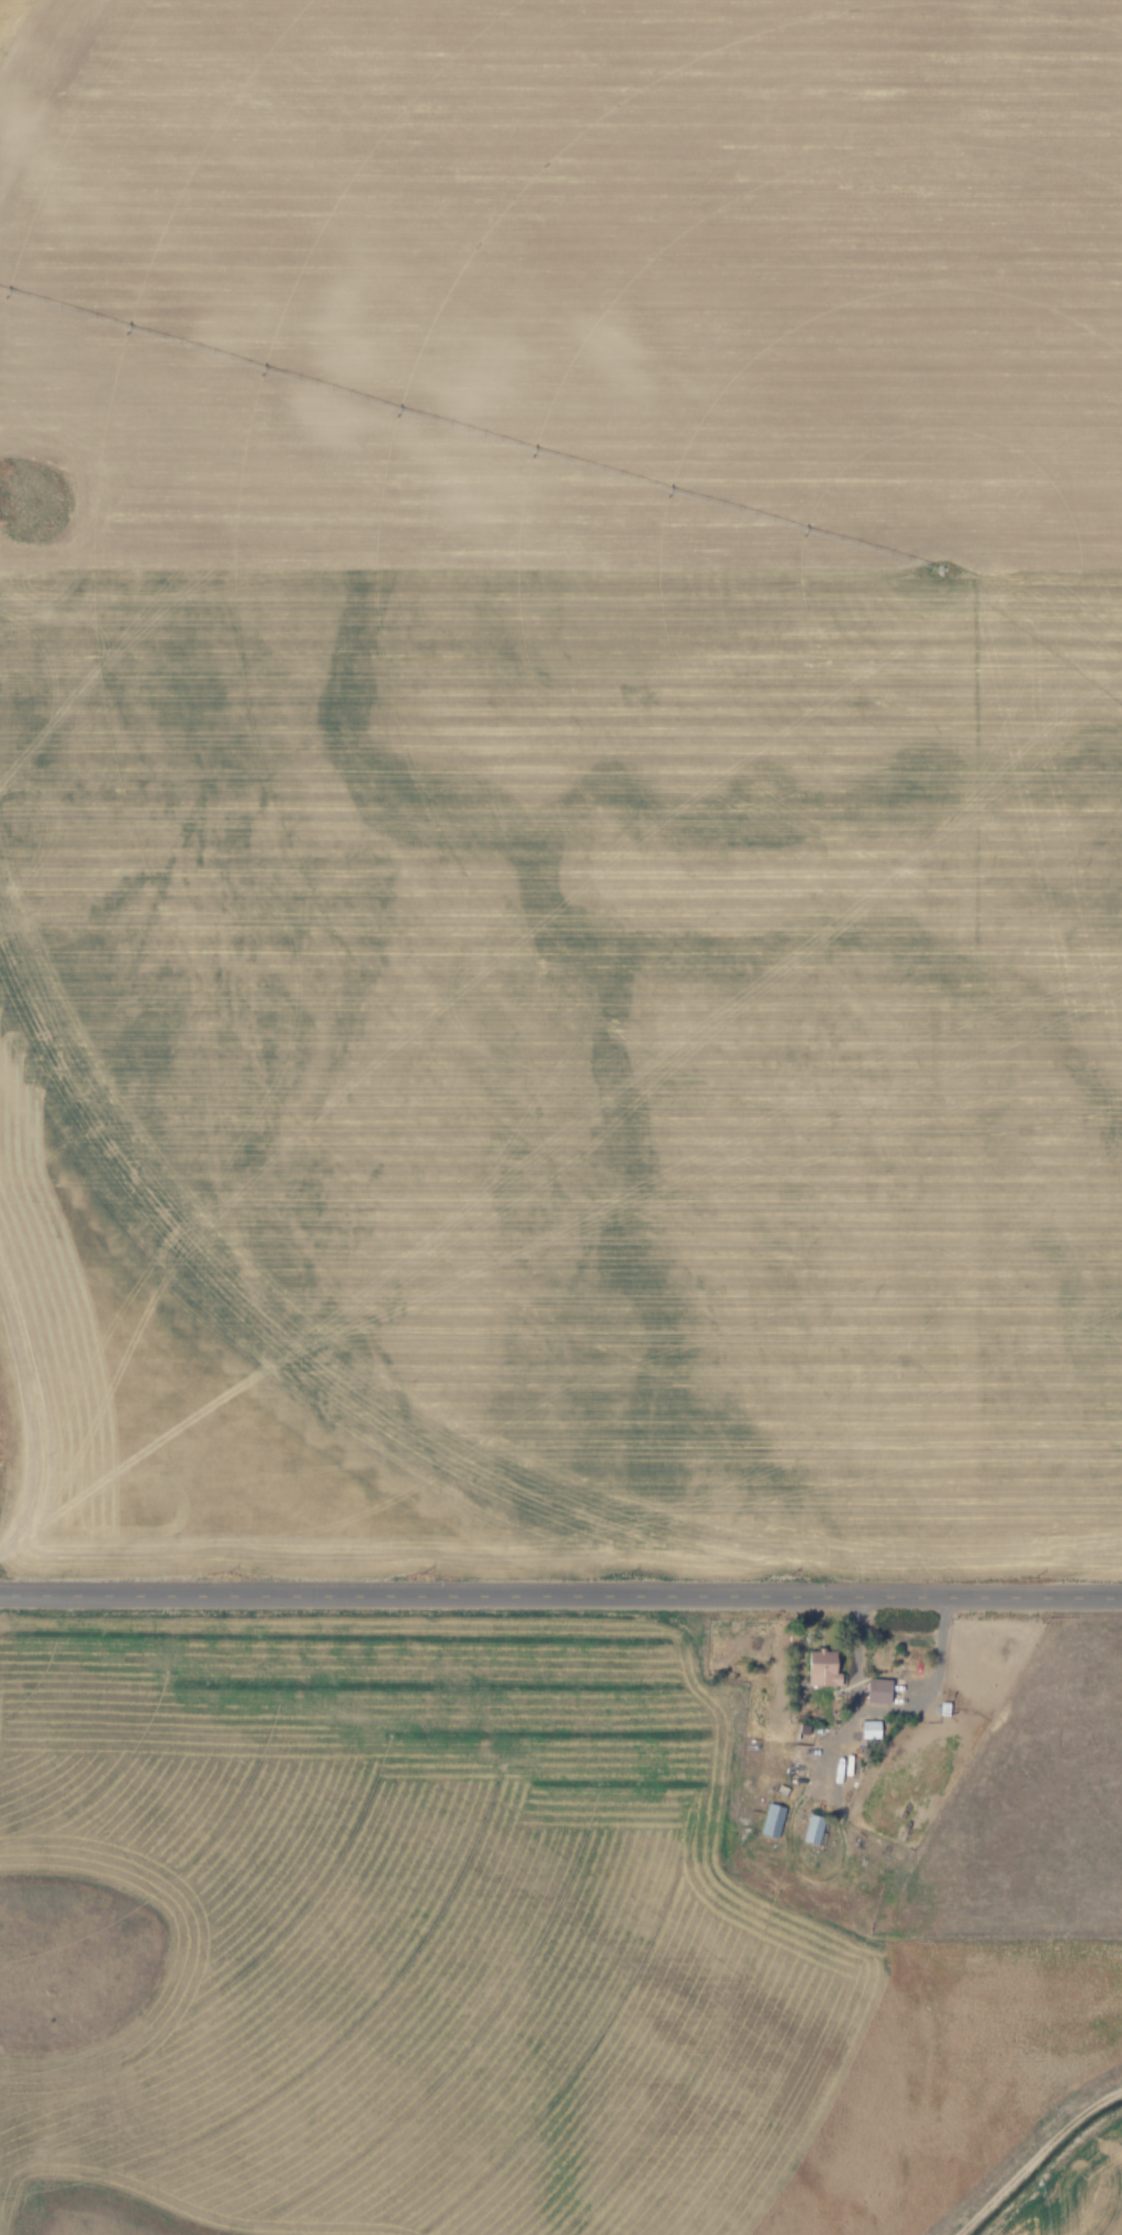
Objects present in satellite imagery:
crop: (597, 739)
road: (561, 1595)
building: (823, 1667)
building: (878, 1692)
building: (771, 1819)
building: (812, 1829)
crop: (530, 1945)

